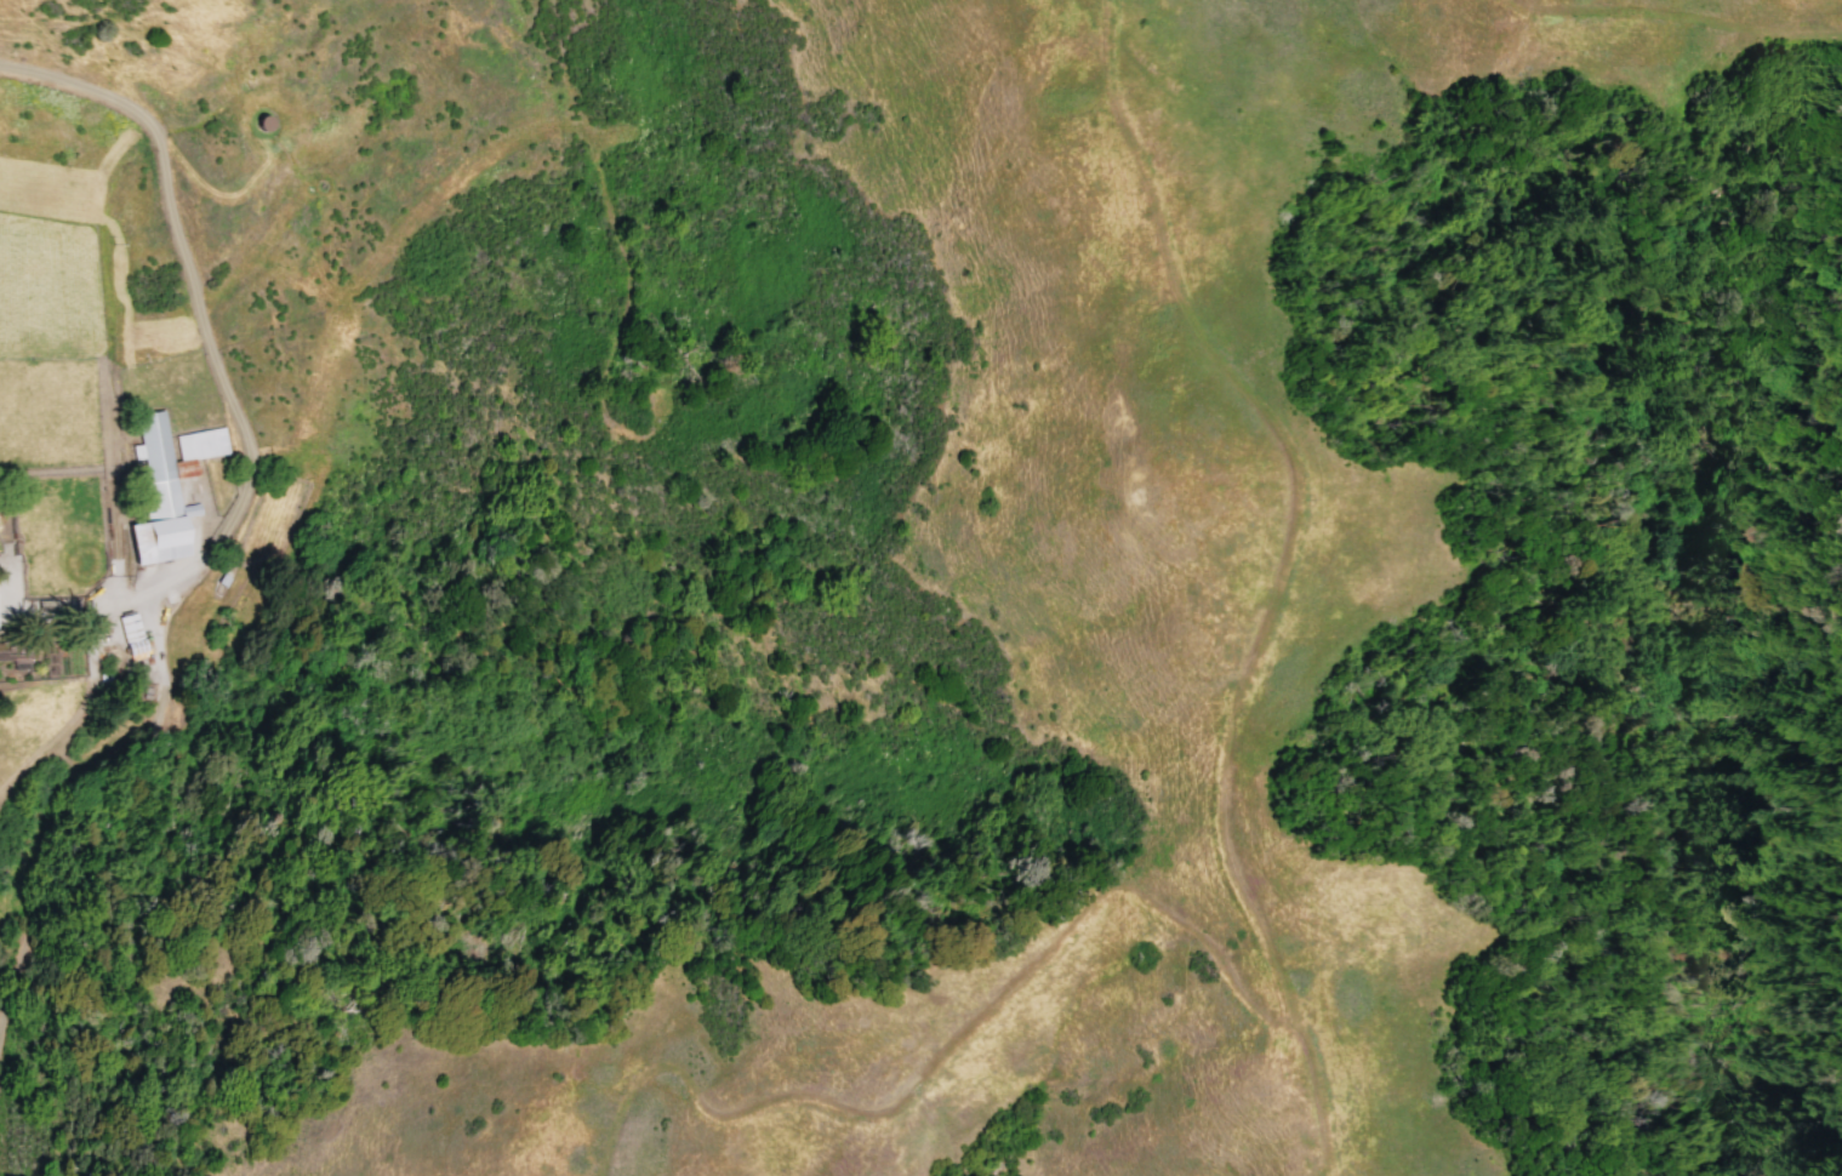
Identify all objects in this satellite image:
road: (190, 280)
building: (166, 487)
building: (130, 636)

